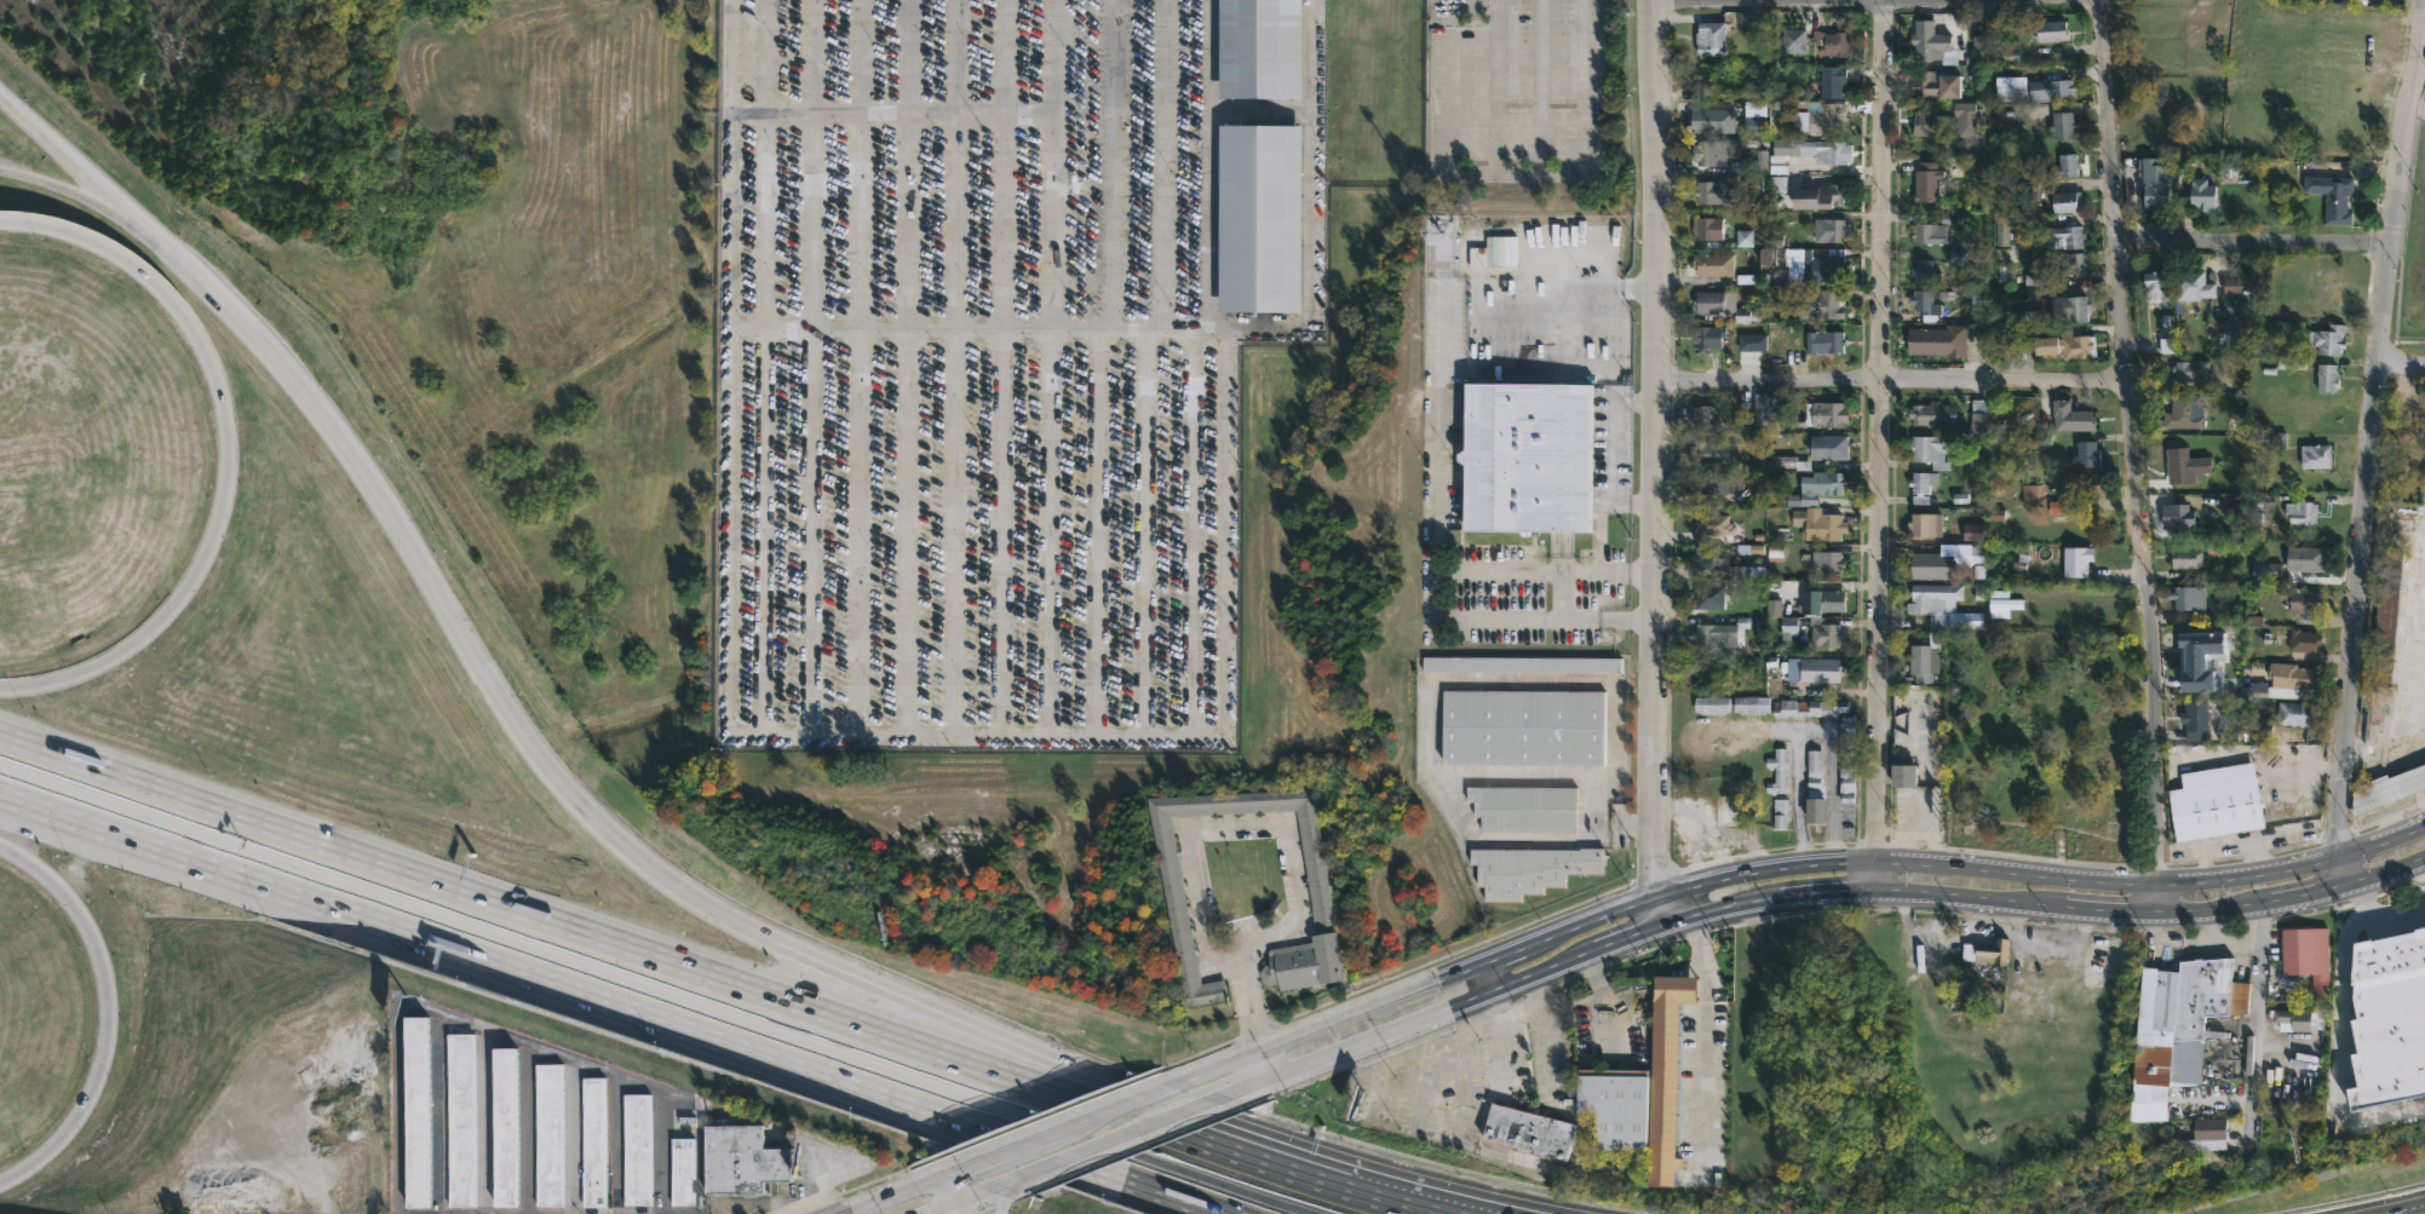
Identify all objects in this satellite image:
road: (1891, 2)
building: (2051, 30)
building: (1709, 38)
building: (1791, 40)
building: (1832, 42)
building: (1931, 42)
building: (1257, 47)
building: (2009, 48)
building: (1832, 81)
building: (1935, 84)
road: (1541, 85)
road: (1498, 87)
building: (2051, 87)
building: (2010, 88)
building: (1778, 91)
building: (1788, 100)
road: (977, 113)
building: (1821, 115)
building: (1965, 117)
building: (1709, 119)
building: (1931, 123)
building: (2063, 125)
road: (44, 139)
building: (1707, 151)
building: (1829, 151)
building: (1785, 160)
building: (1751, 162)
road: (1102, 163)
road: (1154, 163)
road: (1197, 163)
building: (2064, 165)
road: (1498, 168)
road: (38, 178)
building: (1926, 182)
building: (2154, 183)
building: (1711, 191)
building: (2201, 194)
building: (1817, 196)
building: (2332, 196)
building: (2065, 202)
road: (115, 203)
road: (109, 209)
building: (1257, 217)
building: (1706, 228)
building: (1833, 229)
building: (2002, 231)
building: (1929, 232)
building: (2067, 236)
road: (2252, 241)
building: (1712, 261)
building: (2071, 263)
building: (1826, 267)
building: (1924, 271)
building: (2155, 284)
building: (2193, 284)
building: (2246, 284)
road: (1640, 287)
building: (2327, 290)
building: (1927, 300)
building: (1709, 301)
building: (1821, 304)
building: (2069, 307)
road: (1521, 316)
road: (1194, 328)
road: (1561, 333)
building: (2228, 334)
building: (1708, 336)
building: (2327, 339)
building: (1924, 340)
building: (1955, 340)
building: (1825, 341)
building: (2165, 341)
building: (2063, 346)
road: (809, 366)
road: (900, 366)
road: (855, 367)
road: (946, 367)
road: (992, 367)
road: (1040, 367)
road: (2402, 369)
building: (2190, 370)
building: (2327, 376)
road: (1889, 381)
building: (1768, 412)
building: (2184, 412)
building: (1820, 414)
building: (1931, 414)
building: (1701, 415)
building: (1978, 415)
building: (2070, 418)
building: (2409, 422)
road: (2375, 425)
building: (2274, 441)
road: (1880, 448)
building: (1927, 450)
building: (1708, 451)
building: (1812, 451)
road: (226, 453)
building: (2085, 455)
road: (2128, 455)
building: (1524, 456)
building: (2315, 456)
road: (1657, 462)
building: (2184, 465)
building: (1713, 482)
building: (2086, 484)
building: (1921, 485)
road: (1609, 488)
building: (1814, 488)
building: (2033, 494)
building: (2300, 512)
building: (2178, 519)
building: (1713, 524)
building: (1818, 524)
building: (1924, 525)
road: (1084, 531)
road: (1132, 531)
road: (1178, 533)
building: (1972, 533)
building: (2236, 533)
building: (2185, 558)
building: (2305, 558)
building: (1709, 559)
building: (1946, 560)
road: (1435, 562)
building: (1827, 562)
building: (2075, 562)
road: (1530, 571)
building: (2266, 571)
road: (1642, 573)
road: (1559, 596)
building: (1709, 597)
building: (2188, 598)
building: (2302, 600)
building: (1820, 602)
building: (2002, 604)
building: (1781, 618)
road: (1643, 620)
building: (2384, 625)
building: (1933, 626)
building: (1825, 632)
building: (1708, 635)
building: (2304, 641)
building: (2197, 650)
building: (1521, 664)
building: (1817, 669)
building: (2292, 675)
road: (1438, 680)
building: (1709, 704)
building: (1749, 704)
building: (1808, 708)
road: (505, 712)
building: (2294, 714)
building: (2195, 720)
building: (1522, 727)
building: (2253, 730)
road: (829, 732)
park: (2048, 747)
building: (1846, 759)
building: (1777, 771)
road: (1512, 773)
building: (1903, 776)
building: (1814, 789)
building: (2387, 789)
building: (2216, 802)
building: (1523, 809)
road: (1275, 824)
road: (1640, 827)
road: (2380, 836)
road: (1927, 861)
road: (2341, 867)
building: (1528, 869)
road: (2386, 869)
building: (1168, 876)
road: (2304, 891)
road: (1822, 894)
road: (1964, 897)
road: (2360, 897)
road: (2398, 905)
road: (1719, 908)
road: (1852, 909)
road: (2108, 909)
road: (2211, 910)
road: (567, 925)
road: (1631, 934)
road: (1502, 950)
building: (1987, 951)
building: (2306, 957)
road: (564, 960)
road: (1484, 977)
road: (559, 988)
building: (2188, 1001)
road: (108, 1013)
road: (1254, 1015)
road: (1431, 1015)
road: (1527, 1015)
building: (2291, 1020)
road: (1322, 1022)
building: (2389, 1022)
road: (476, 1026)
road: (2254, 1031)
road: (1703, 1032)
road: (2339, 1049)
building: (1665, 1074)
road: (1069, 1080)
road: (1241, 1091)
building: (1614, 1104)
road: (1109, 1106)
road: (1193, 1109)
building: (421, 1114)
building: (464, 1122)
building: (508, 1129)
road: (699, 1129)
building: (1528, 1129)
road: (571, 1135)
building: (551, 1137)
building: (2205, 1137)
road: (1159, 1140)
building: (596, 1144)
road: (1091, 1147)
road: (1002, 1150)
road: (660, 1151)
building: (639, 1152)
building: (743, 1163)
road: (1285, 1169)
road: (948, 1172)
building: (684, 1173)
road: (1005, 1181)
road: (1008, 1181)
road: (1223, 1184)
road: (890, 1195)
road: (950, 1195)
road: (1170, 1197)
road: (961, 1198)
road: (1001, 1198)
road: (992, 1204)

